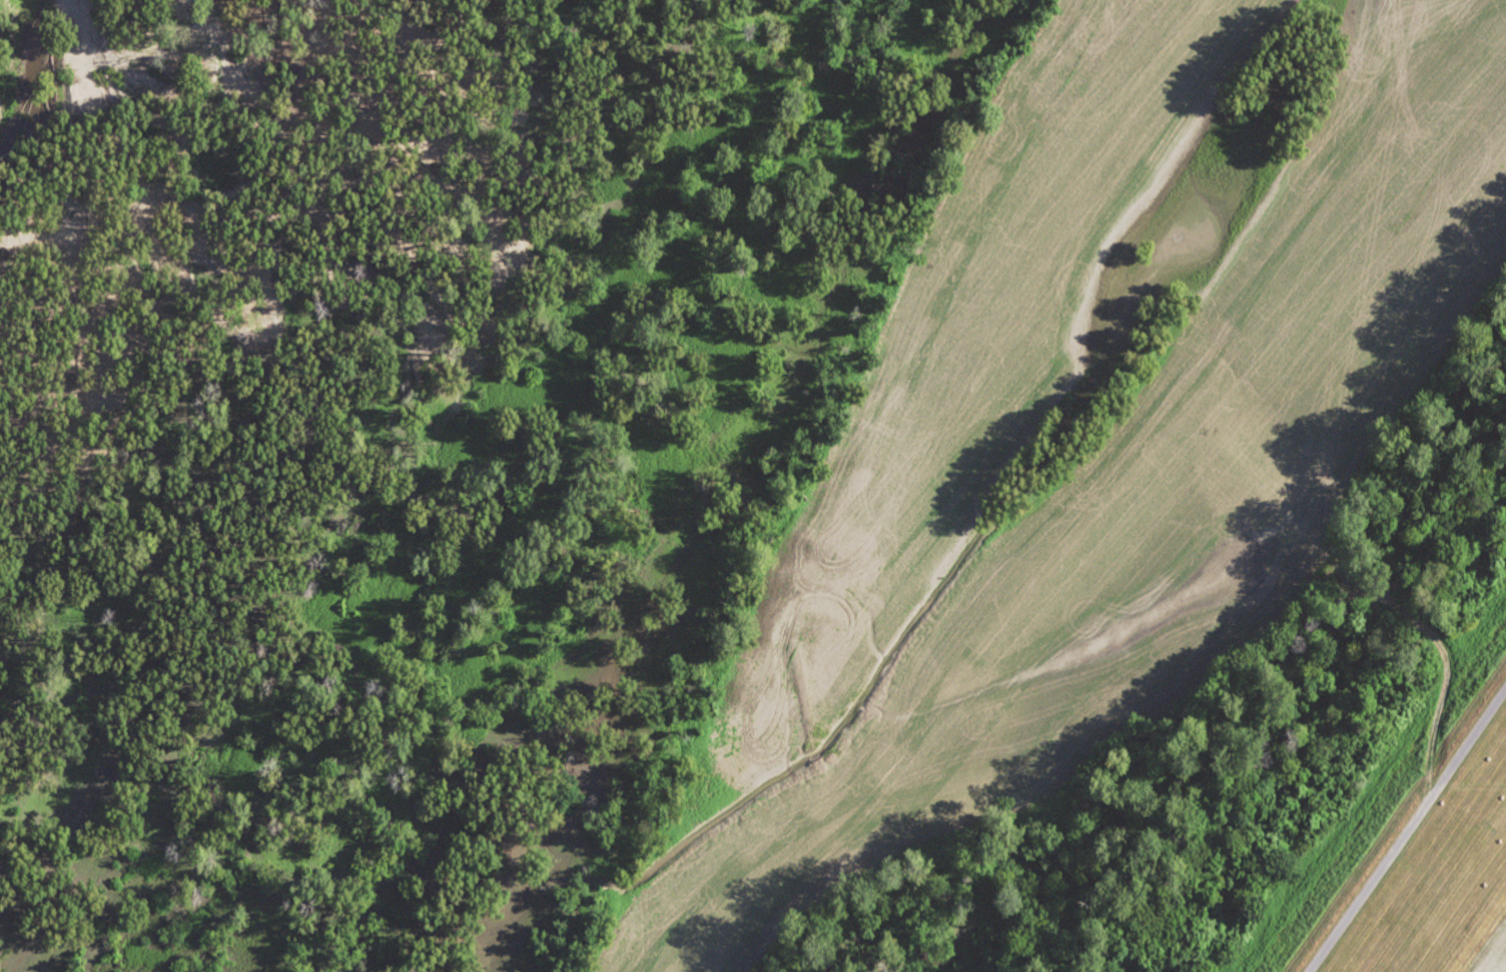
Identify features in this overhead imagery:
road: (1409, 834)

